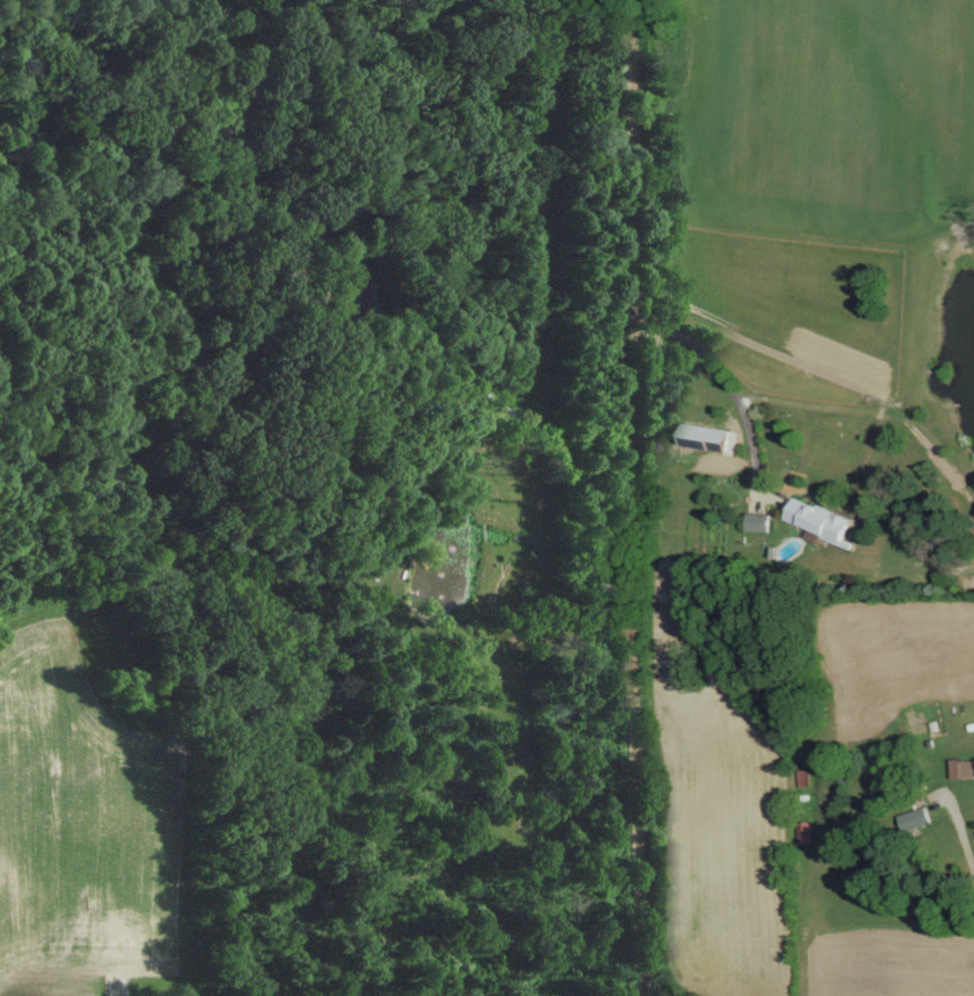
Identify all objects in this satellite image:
road: (730, 379)
road: (539, 426)
building: (705, 435)
road: (630, 498)
building: (819, 516)
building: (769, 521)
building: (969, 769)
building: (806, 777)
building: (33, 796)
road: (965, 818)
building: (919, 819)
building: (807, 832)
building: (132, 966)

